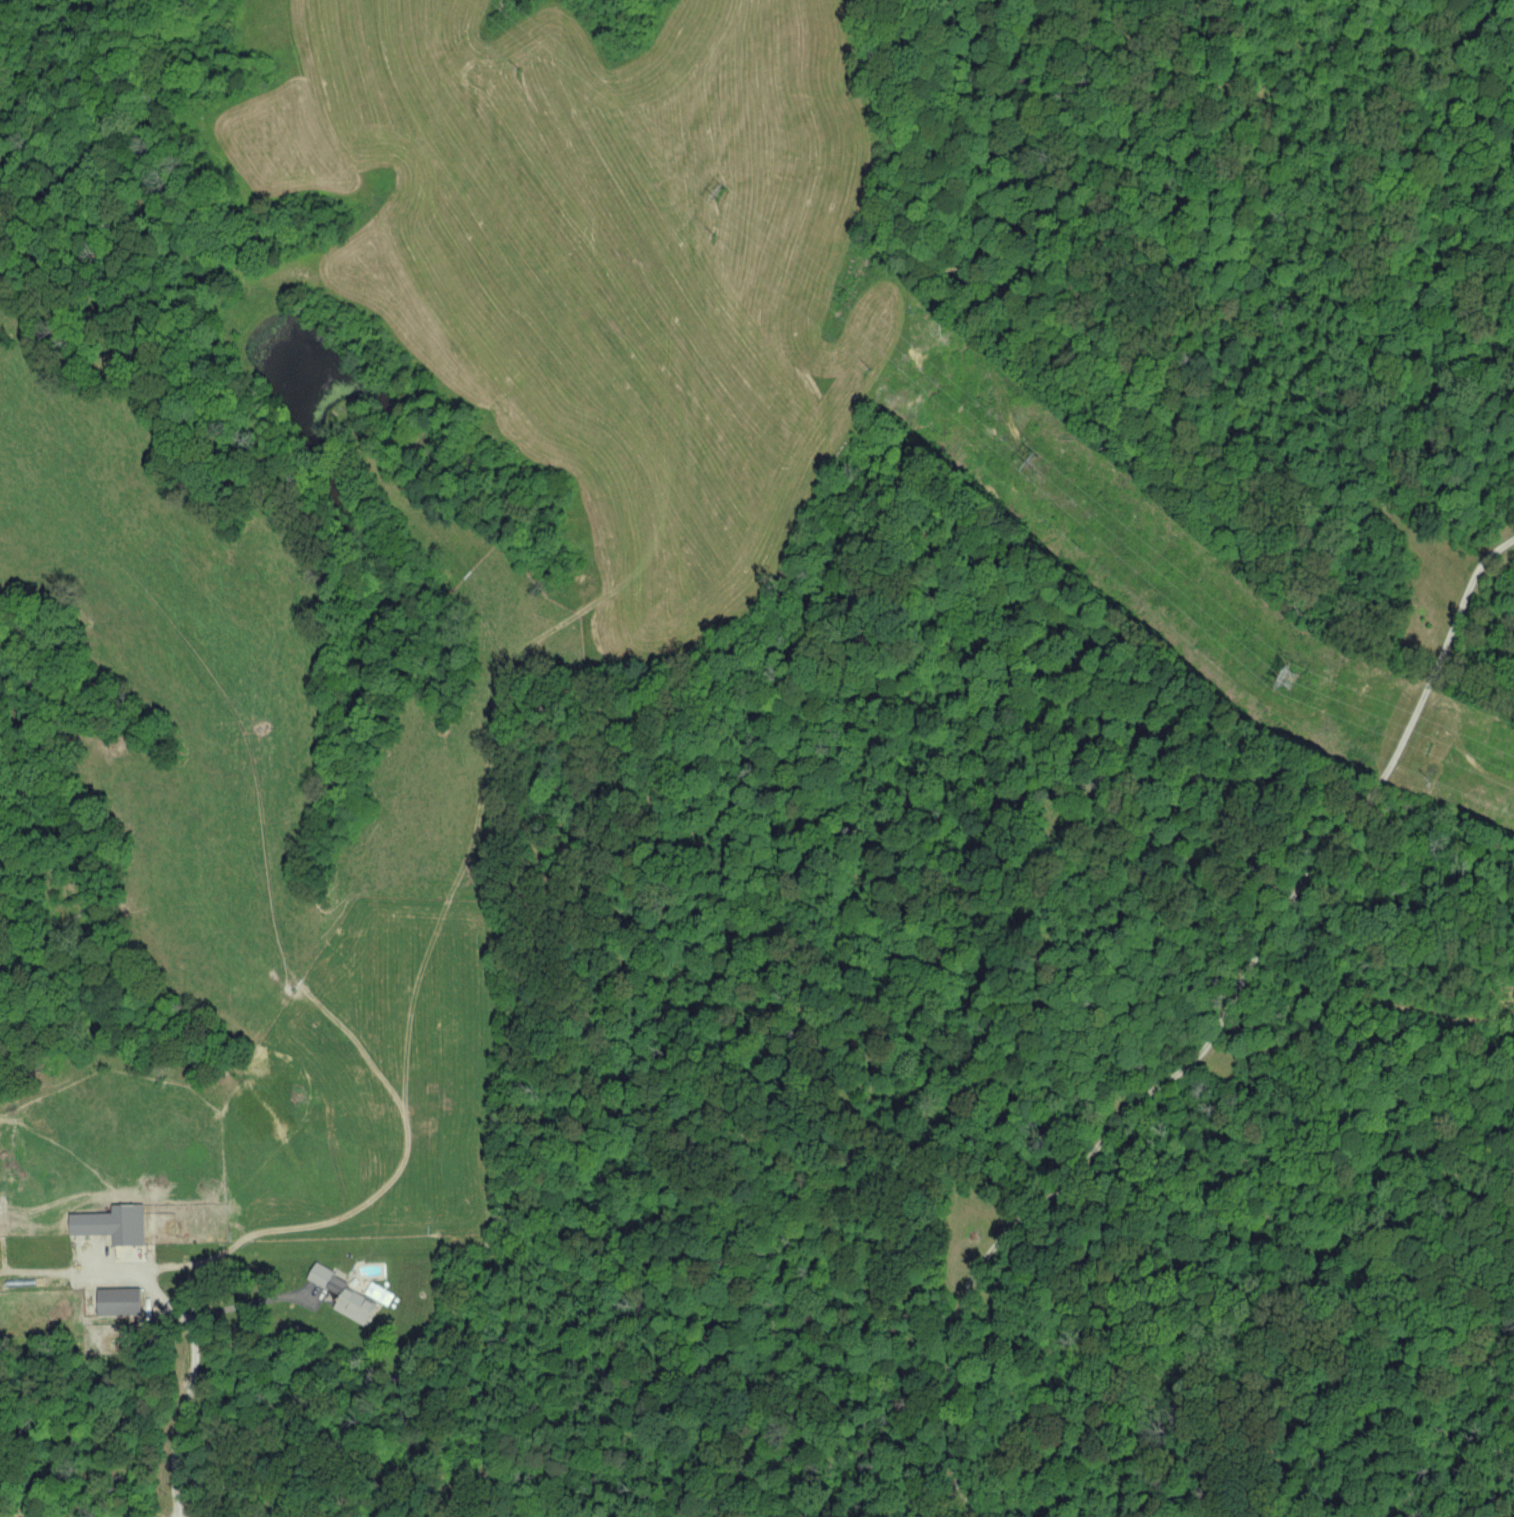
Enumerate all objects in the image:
power tower: (530, 66)
power tower: (727, 190)
power tower: (721, 235)
power tower: (877, 367)
power tower: (1043, 455)
power tower: (1090, 542)
power tower: (1285, 667)
power tower: (1277, 704)
power tower: (1436, 779)
road: (1210, 1035)
building: (112, 1223)
building: (345, 1295)
building: (118, 1300)
road: (251, 1302)
road: (191, 1378)

